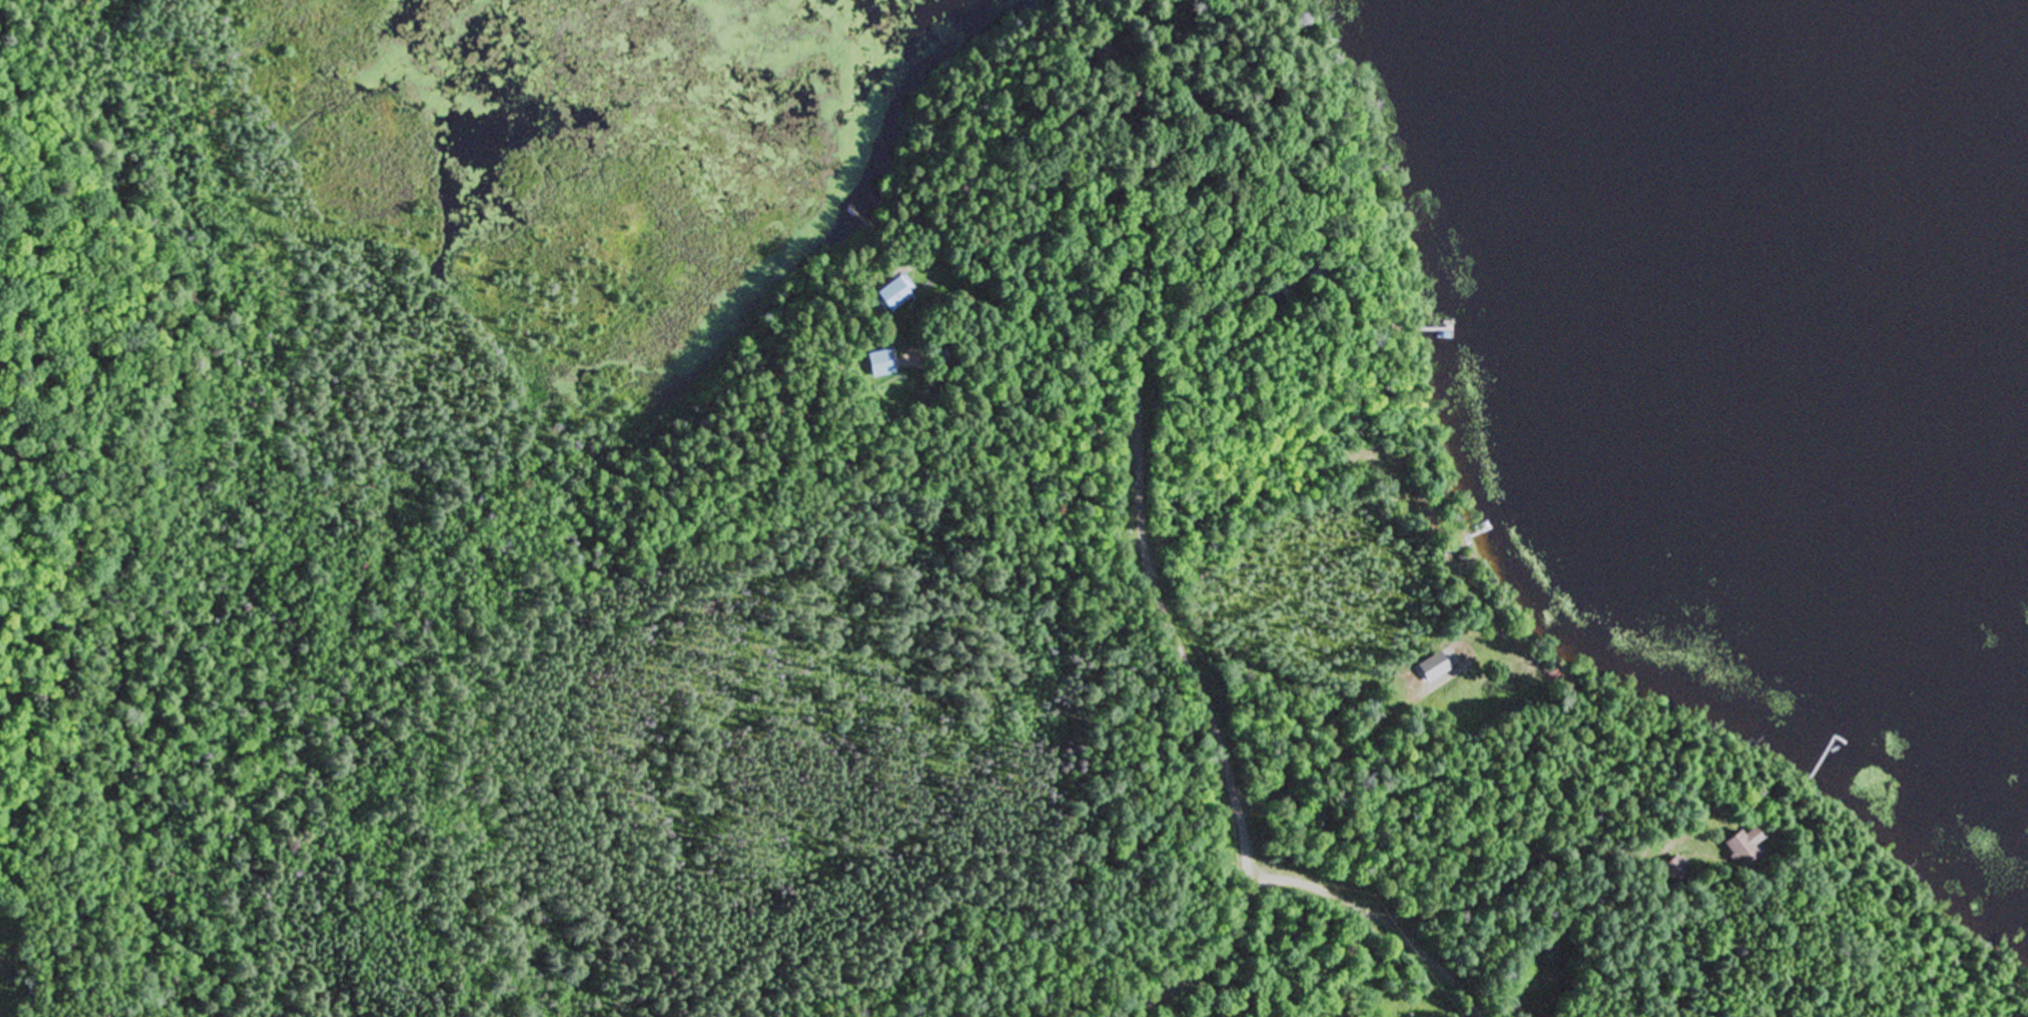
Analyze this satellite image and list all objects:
building: (891, 293)
building: (876, 365)
road: (1172, 639)
building: (1430, 668)
road: (1357, 734)
building: (1740, 847)
building: (1676, 870)
road: (1383, 916)

